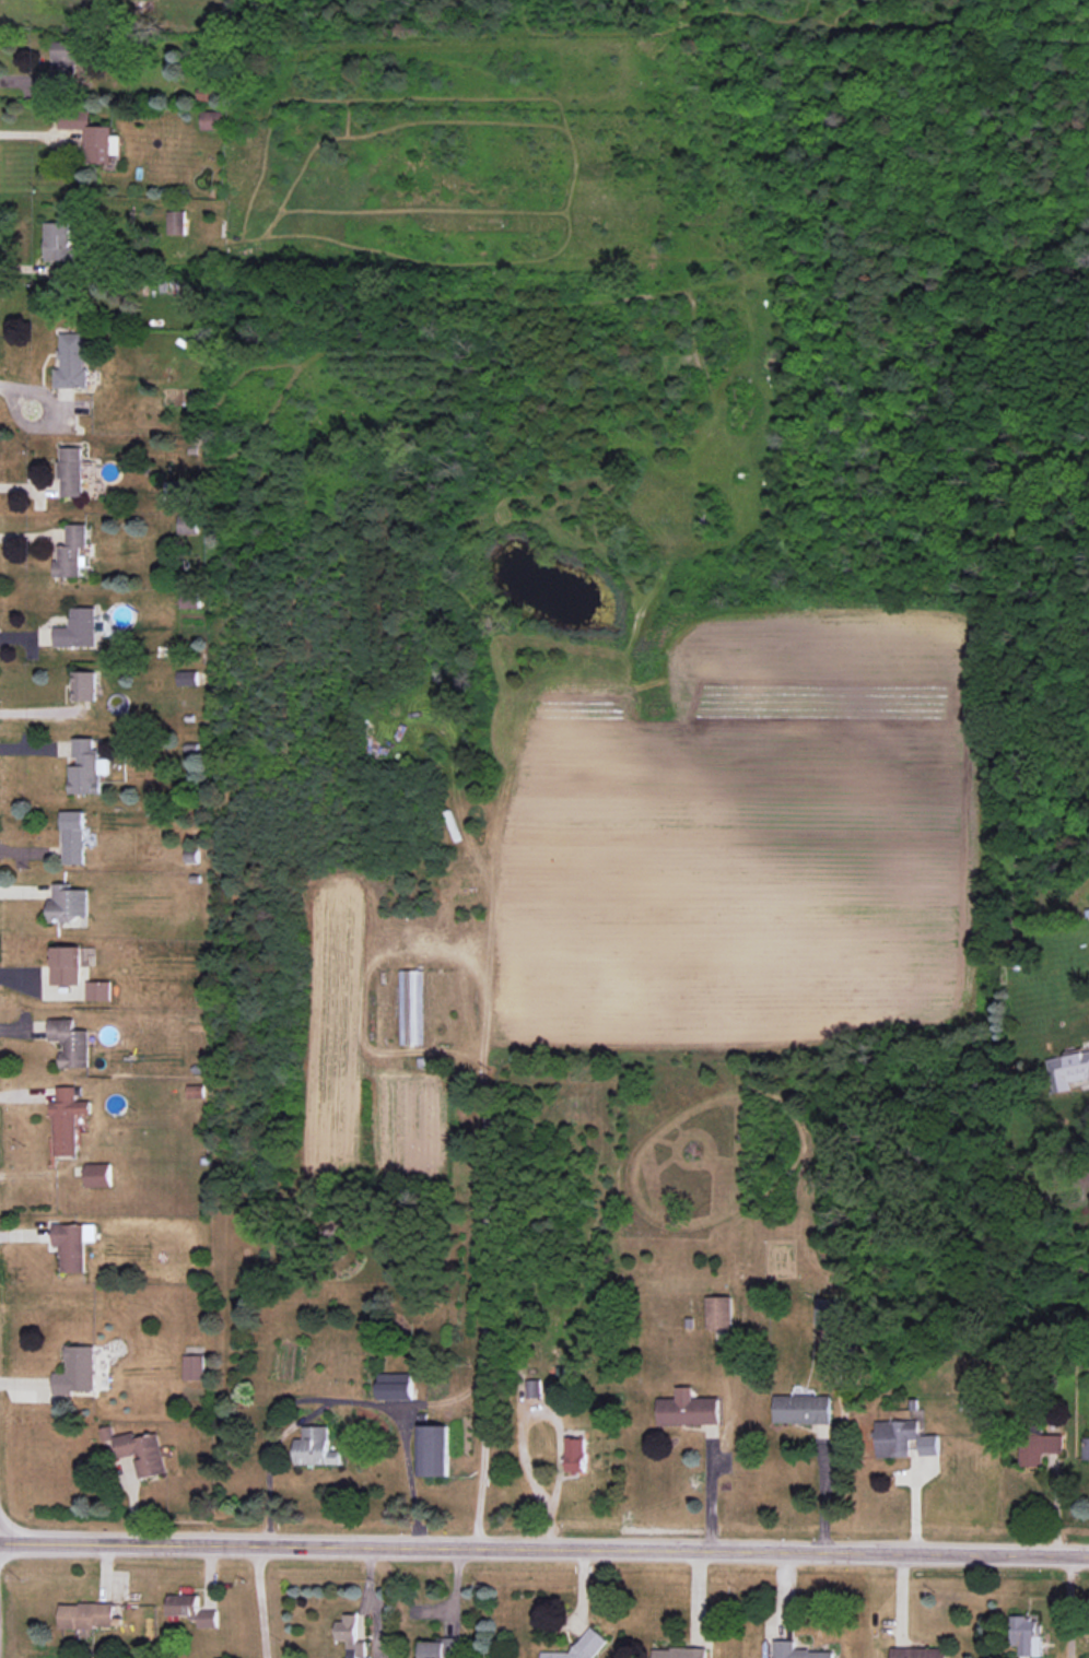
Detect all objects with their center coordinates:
building: (65, 61)
building: (211, 120)
building: (92, 136)
building: (176, 222)
building: (59, 243)
building: (72, 361)
building: (72, 471)
building: (184, 490)
building: (187, 525)
building: (72, 551)
building: (190, 600)
building: (79, 628)
building: (188, 678)
building: (85, 685)
building: (87, 767)
building: (74, 837)
building: (68, 903)
building: (67, 965)
building: (98, 990)
building: (409, 1007)
building: (71, 1043)
building: (1068, 1070)
building: (68, 1120)
building: (99, 1175)
building: (71, 1246)
building: (825, 1310)
building: (719, 1313)
building: (194, 1367)
building: (77, 1371)
building: (396, 1386)
building: (532, 1388)
building: (965, 1401)
building: (688, 1409)
building: (803, 1409)
building: (895, 1437)
building: (928, 1445)
building: (315, 1447)
building: (1039, 1447)
building: (1087, 1448)
building: (139, 1450)
building: (433, 1450)
building: (574, 1455)
road: (544, 1545)
road: (261, 1599)
road: (1068, 1604)
building: (192, 1609)
building: (86, 1615)
building: (1028, 1635)
building: (351, 1636)
building: (582, 1647)
building: (441, 1648)
building: (797, 1650)
building: (679, 1653)
building: (918, 1653)

